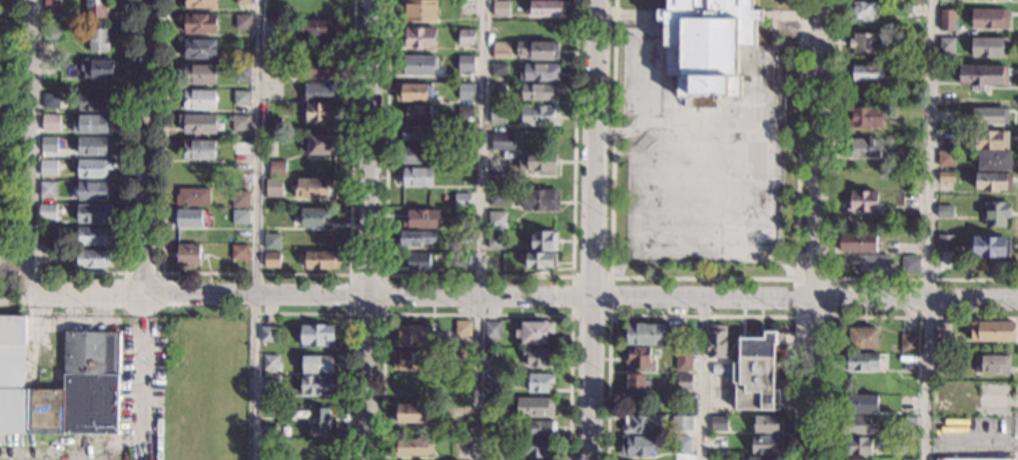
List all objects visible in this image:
building: (242, 1)
building: (200, 3)
building: (52, 4)
building: (500, 7)
building: (96, 8)
building: (547, 8)
building: (912, 9)
building: (419, 10)
building: (864, 10)
building: (947, 19)
building: (989, 19)
building: (243, 22)
building: (198, 23)
building: (277, 27)
building: (321, 27)
building: (52, 34)
building: (466, 36)
building: (419, 37)
building: (98, 39)
building: (915, 41)
building: (865, 42)
building: (947, 45)
building: (709, 46)
building: (989, 46)
building: (198, 48)
building: (501, 49)
building: (537, 50)
building: (465, 63)
building: (418, 64)
building: (63, 65)
building: (99, 68)
building: (276, 68)
building: (499, 68)
building: (323, 69)
building: (913, 69)
building: (539, 71)
building: (867, 72)
building: (242, 73)
building: (199, 74)
building: (981, 75)
building: (498, 89)
building: (413, 91)
building: (537, 91)
building: (321, 92)
building: (466, 92)
building: (242, 97)
building: (198, 98)
building: (50, 99)
building: (95, 100)
road: (644, 107)
building: (465, 110)
building: (318, 112)
building: (418, 113)
building: (499, 113)
building: (540, 115)
building: (990, 115)
building: (864, 117)
building: (50, 122)
building: (240, 122)
building: (91, 123)
building: (197, 123)
building: (273, 125)
building: (421, 132)
building: (464, 135)
building: (946, 138)
building: (990, 139)
park: (16, 141)
building: (503, 141)
building: (52, 144)
building: (321, 144)
road: (32, 146)
building: (94, 146)
road: (144, 146)
building: (864, 147)
building: (241, 148)
road: (819, 148)
building: (199, 149)
building: (464, 151)
building: (417, 155)
building: (946, 158)
building: (994, 160)
building: (538, 162)
building: (48, 168)
building: (92, 168)
building: (277, 168)
building: (469, 172)
building: (193, 174)
building: (416, 176)
building: (946, 176)
building: (496, 181)
building: (993, 181)
road: (126, 184)
building: (274, 187)
building: (312, 187)
road: (5, 189)
building: (47, 189)
building: (92, 190)
building: (192, 196)
building: (498, 197)
building: (240, 198)
building: (462, 200)
building: (541, 200)
building: (863, 202)
building: (945, 211)
building: (47, 212)
building: (93, 212)
building: (996, 213)
building: (240, 217)
building: (314, 217)
building: (190, 218)
building: (422, 218)
building: (462, 219)
building: (497, 219)
road: (927, 229)
road: (256, 230)
road: (369, 230)
road: (479, 230)
road: (592, 230)
road: (833, 231)
building: (47, 234)
building: (93, 236)
building: (414, 237)
building: (496, 240)
building: (545, 240)
building: (272, 241)
building: (945, 241)
building: (858, 242)
building: (989, 246)
building: (239, 251)
building: (187, 254)
building: (92, 258)
building: (319, 259)
building: (538, 259)
building: (272, 260)
building: (418, 261)
building: (462, 262)
building: (869, 263)
building: (910, 263)
road: (13, 270)
road: (255, 273)
road: (383, 276)
road: (477, 276)
road: (124, 277)
road: (702, 279)
road: (523, 295)
road: (28, 303)
road: (75, 314)
road: (476, 315)
road: (608, 315)
road: (700, 316)
road: (832, 316)
road: (853, 317)
road: (70, 327)
building: (463, 327)
building: (492, 329)
building: (942, 331)
building: (993, 331)
building: (534, 332)
building: (268, 333)
building: (655, 334)
building: (316, 335)
road: (140, 336)
building: (412, 336)
building: (437, 337)
building: (863, 338)
building: (716, 340)
road: (346, 341)
building: (909, 342)
building: (460, 354)
building: (494, 354)
building: (537, 356)
building: (639, 357)
building: (683, 358)
building: (410, 360)
building: (271, 361)
building: (861, 361)
building: (941, 361)
building: (992, 363)
building: (316, 364)
building: (720, 369)
building: (756, 372)
road: (701, 378)
road: (814, 378)
building: (491, 380)
building: (91, 381)
building: (539, 382)
building: (683, 382)
building: (272, 383)
building: (318, 384)
building: (409, 384)
building: (636, 385)
building: (493, 401)
building: (861, 403)
building: (907, 403)
building: (531, 406)
building: (409, 413)
building: (319, 419)
building: (681, 422)
building: (719, 423)
building: (766, 423)
building: (907, 423)
building: (642, 424)
building: (857, 424)
building: (493, 427)
building: (542, 428)
building: (271, 430)
building: (461, 431)
building: (682, 444)
building: (767, 444)
building: (908, 444)
building: (858, 445)
building: (638, 446)
building: (412, 447)
building: (535, 447)
road: (1017, 452)
building: (760, 458)
building: (971, 458)
building: (858, 459)
building: (909, 459)

